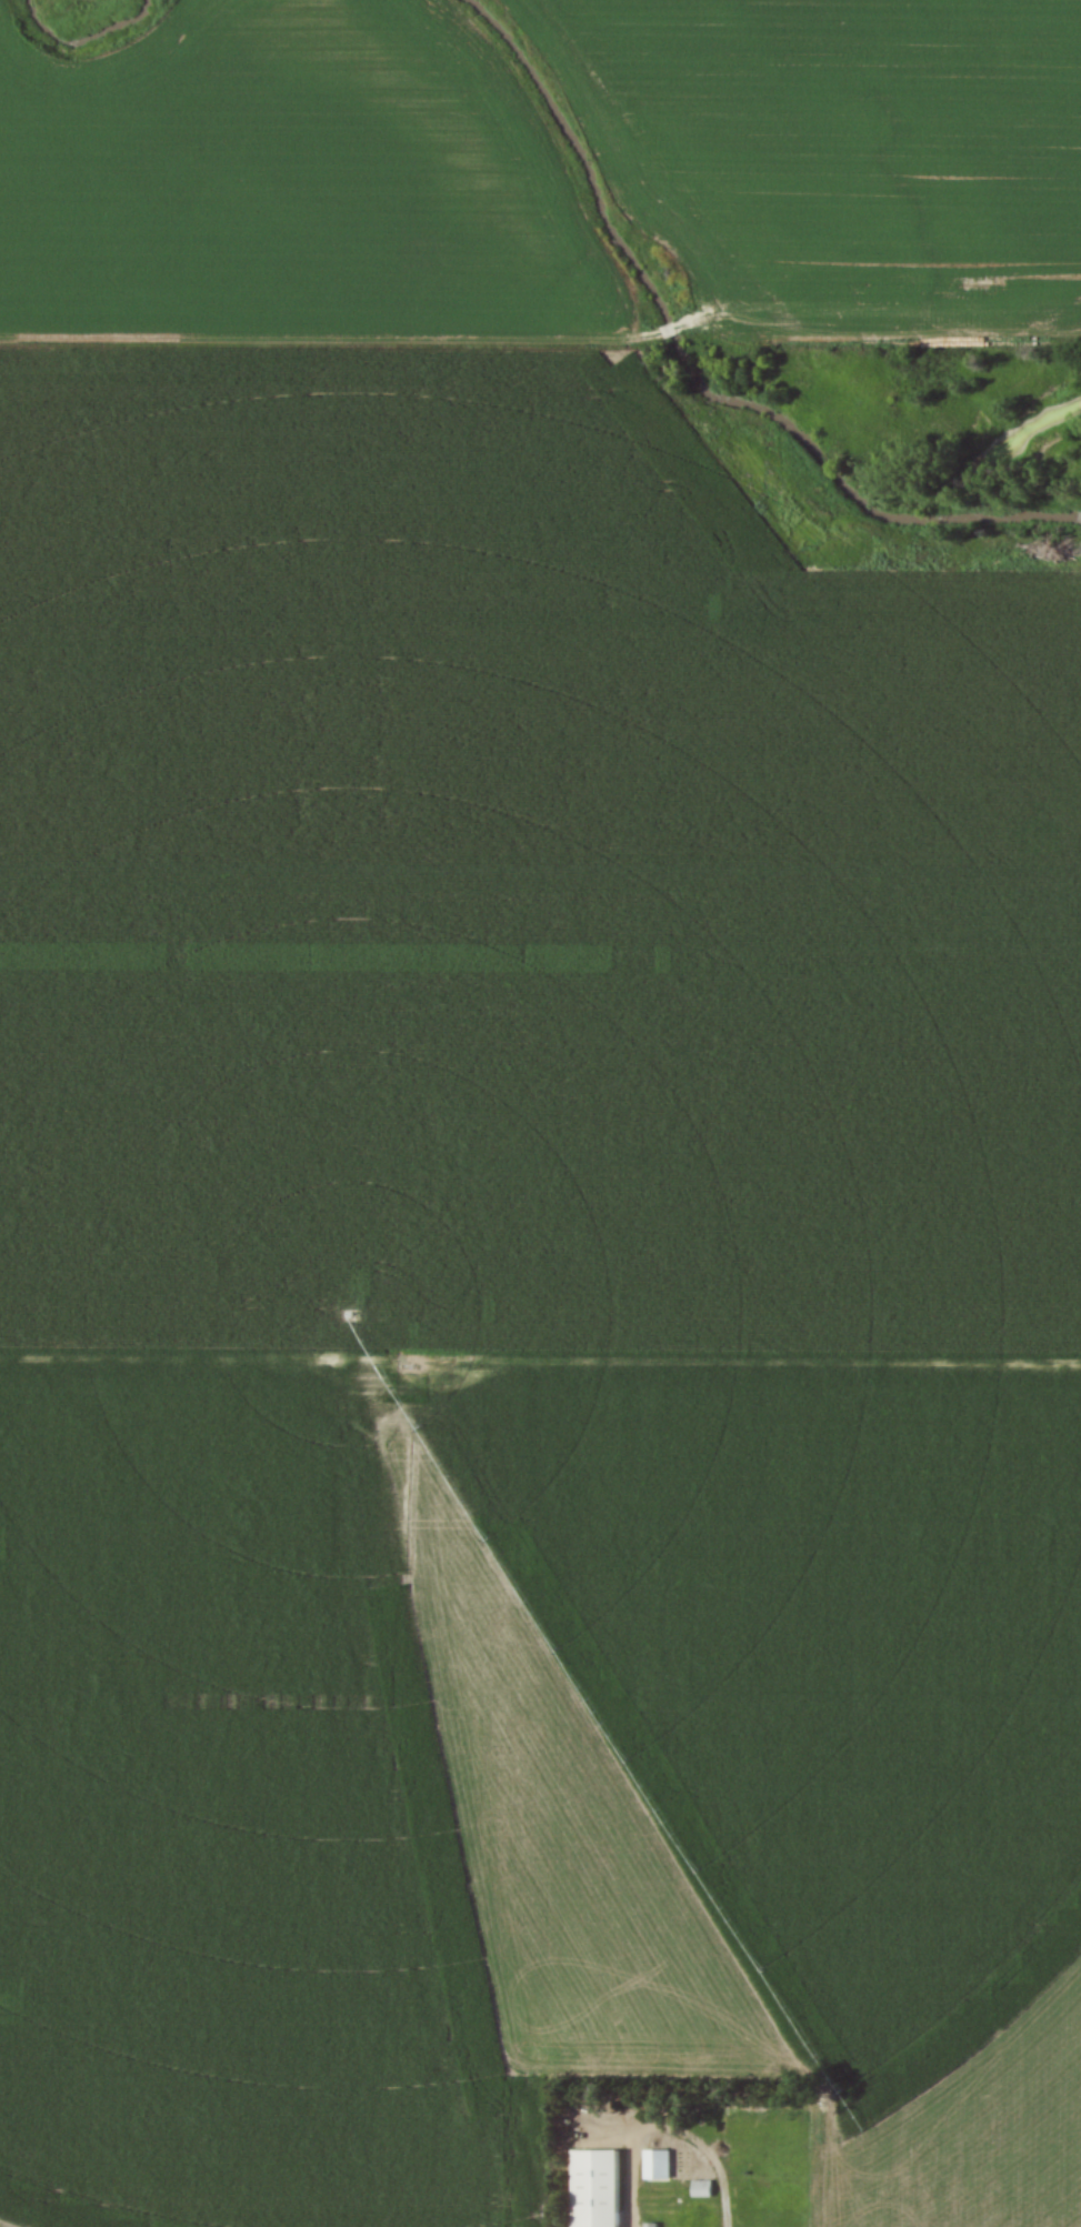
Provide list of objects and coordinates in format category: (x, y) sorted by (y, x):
crop: (850, 149)
building: (667, 332)
crop: (502, 1207)
road: (540, 1365)
road: (703, 2150)
building: (657, 2163)
road: (627, 2164)
building: (700, 2187)
building: (597, 2188)
building: (649, 2224)

